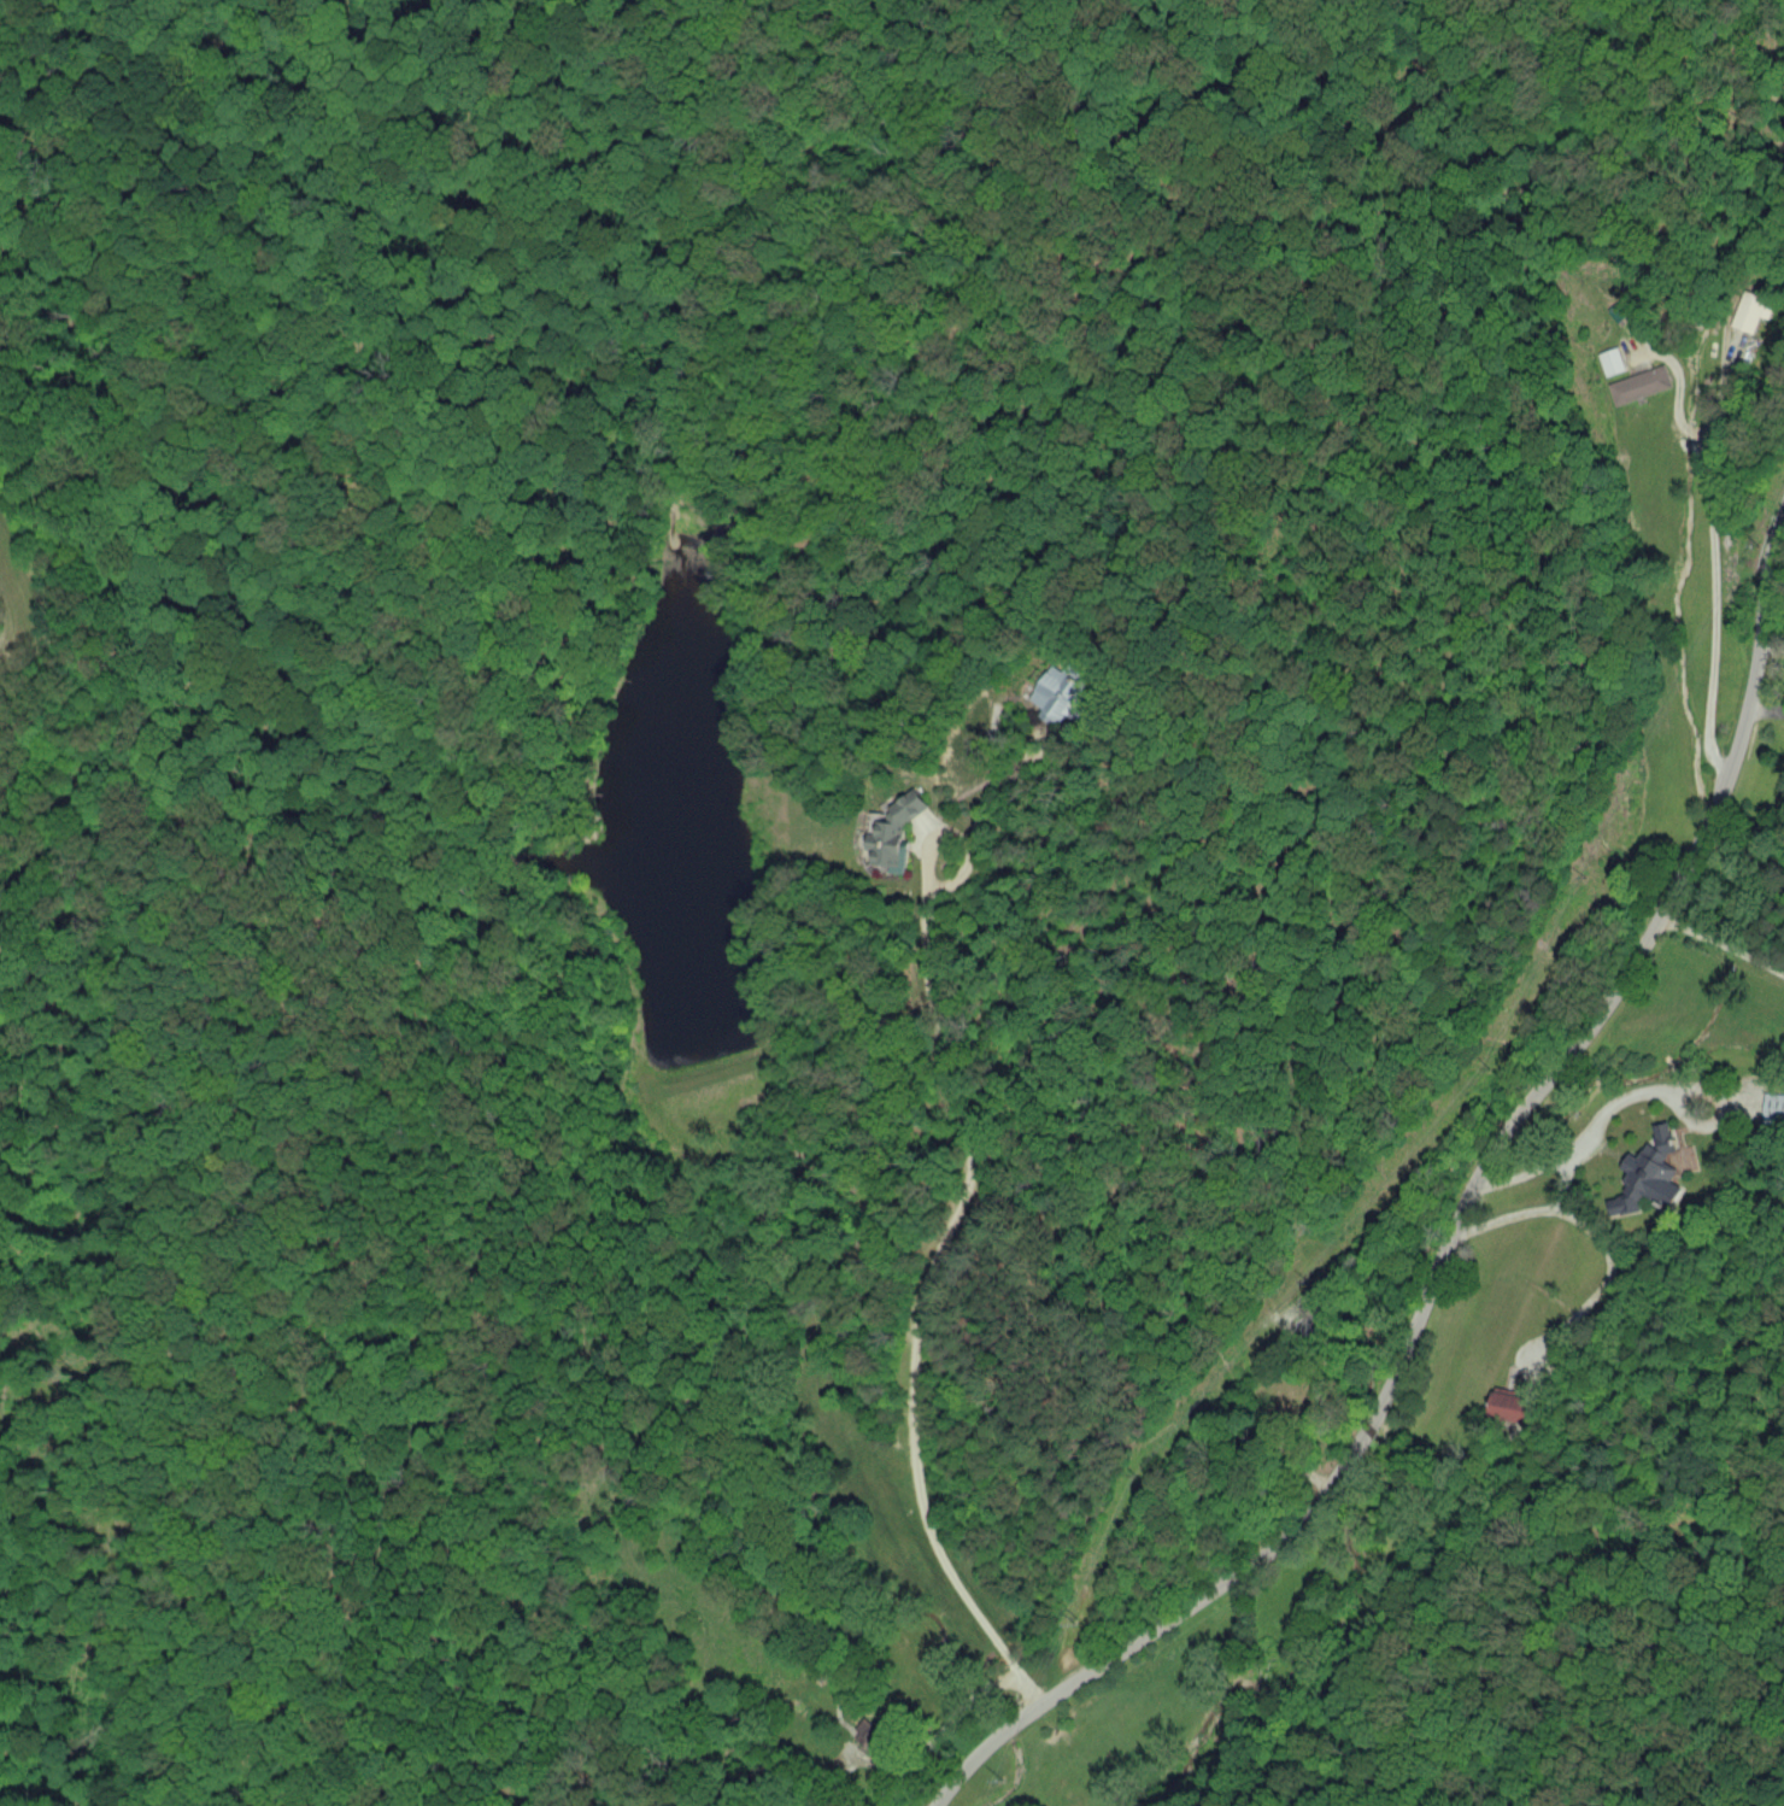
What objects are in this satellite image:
road: (90, 89)
building: (1609, 360)
building: (1637, 383)
road: (1706, 551)
building: (1058, 694)
building: (891, 833)
road: (1723, 944)
road: (1682, 1086)
building: (1772, 1107)
building: (1648, 1172)
road: (1563, 1191)
road: (1454, 1232)
road: (915, 1304)
building: (1503, 1406)

